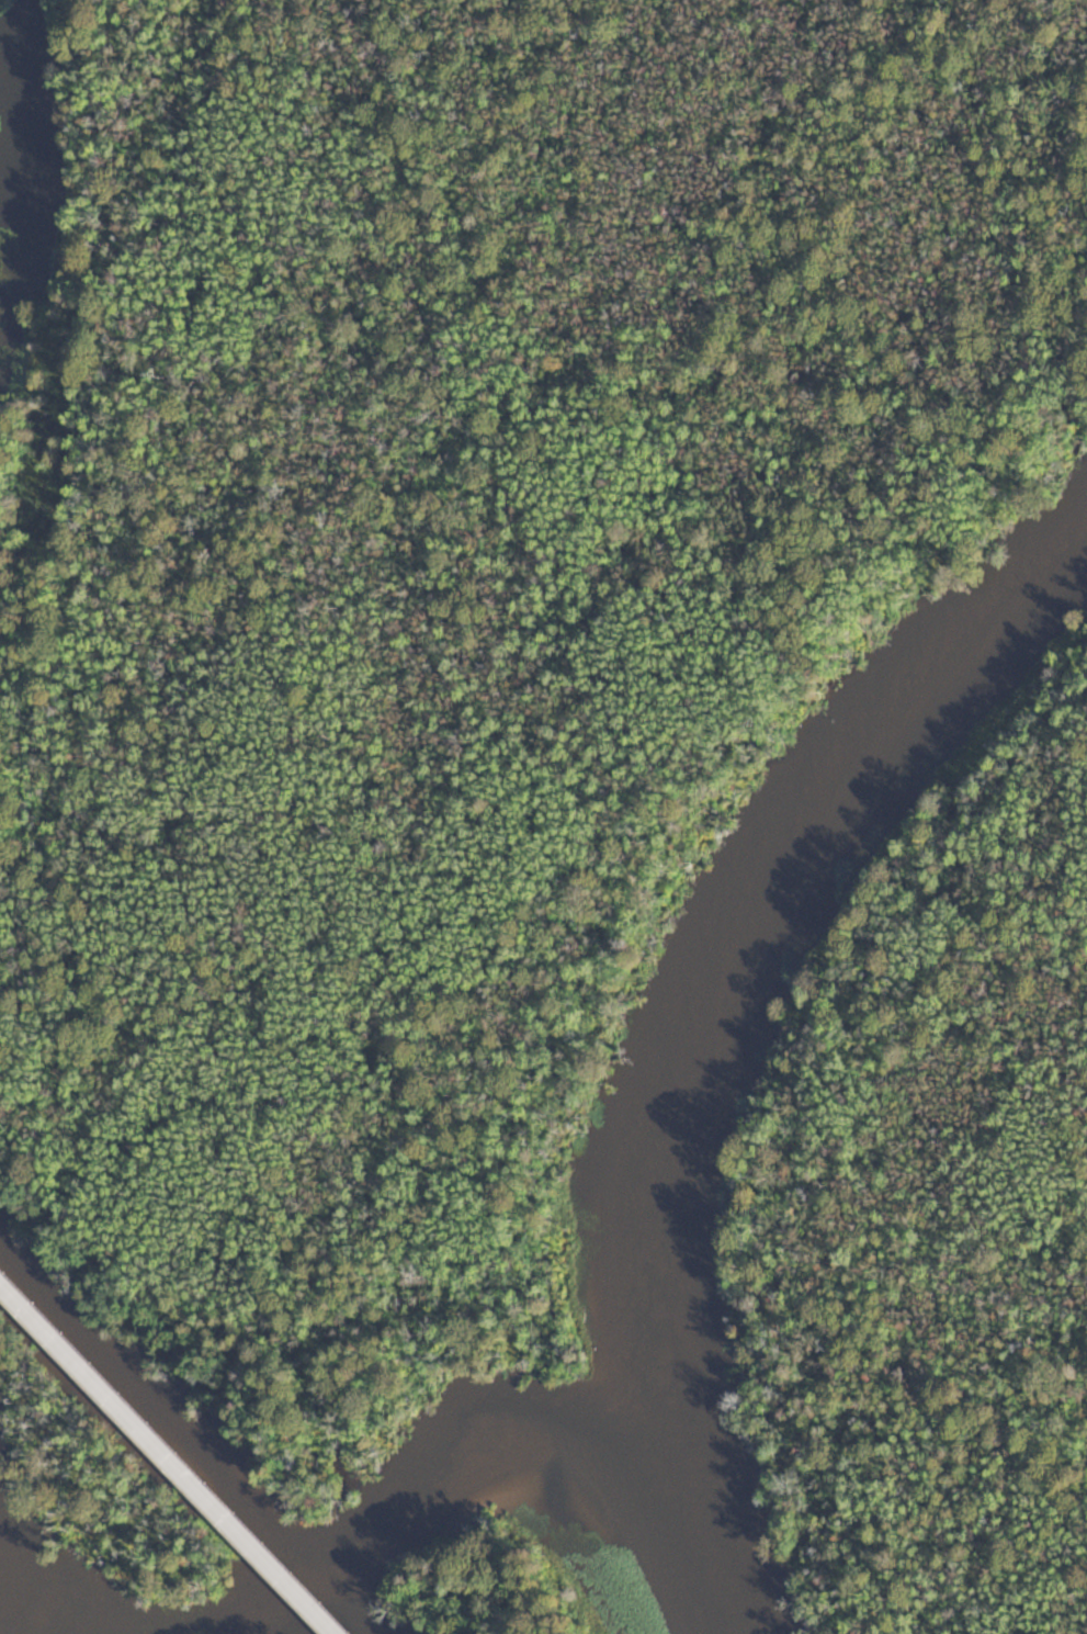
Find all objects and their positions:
river: (661, 1182)
road: (169, 1456)

